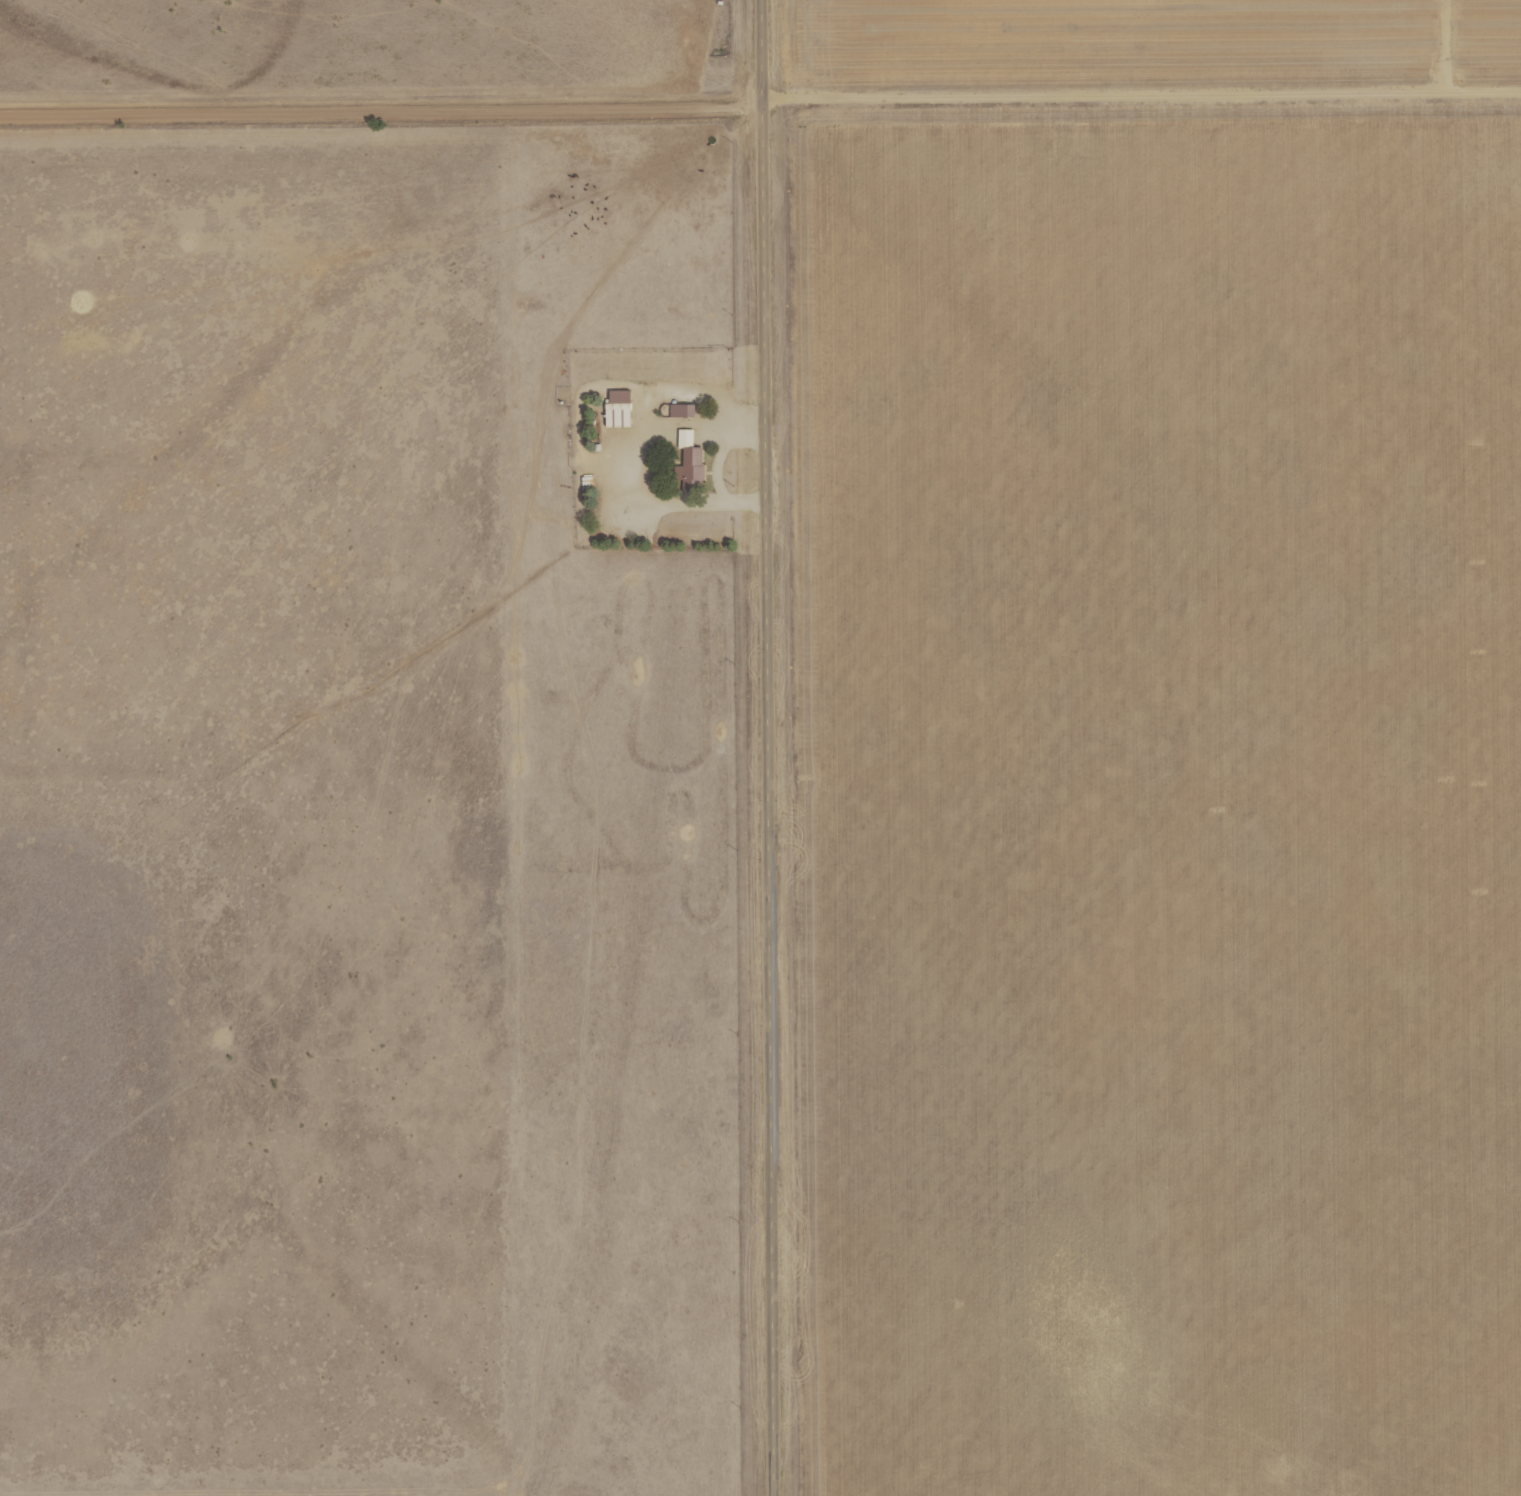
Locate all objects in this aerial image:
road: (380, 110)
building: (680, 411)
building: (616, 415)
building: (689, 463)
road: (766, 748)

